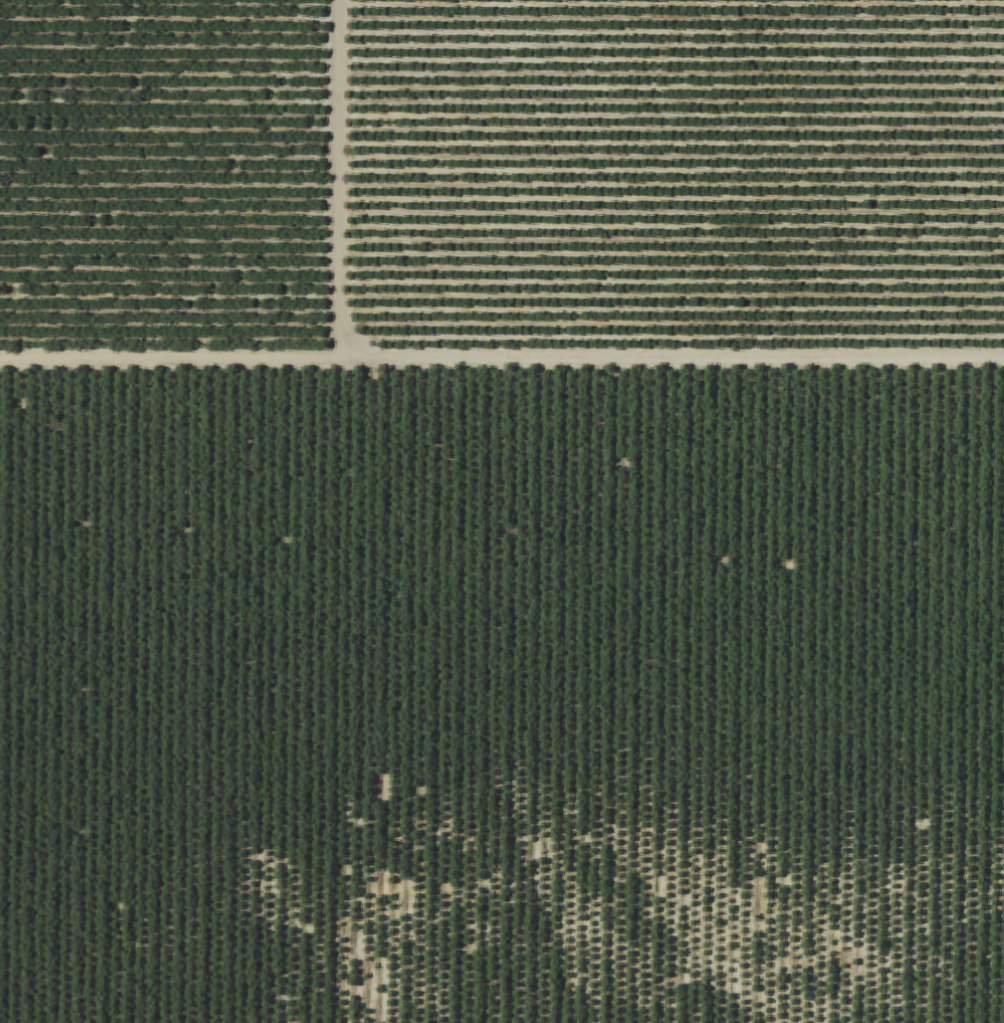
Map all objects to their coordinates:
road: (338, 180)
road: (502, 360)

